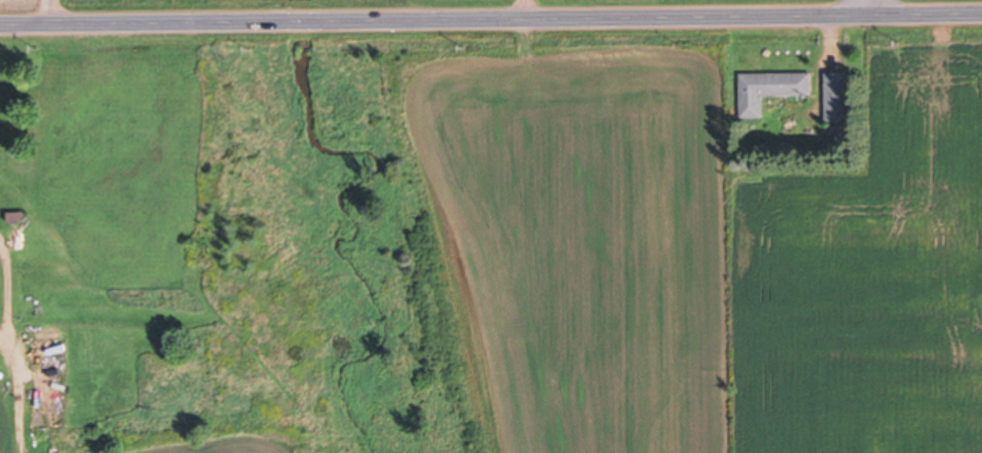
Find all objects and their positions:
park: (703, 2)
park: (91, 5)
road: (871, 6)
road: (491, 19)
building: (781, 83)
building: (840, 96)
building: (54, 381)

